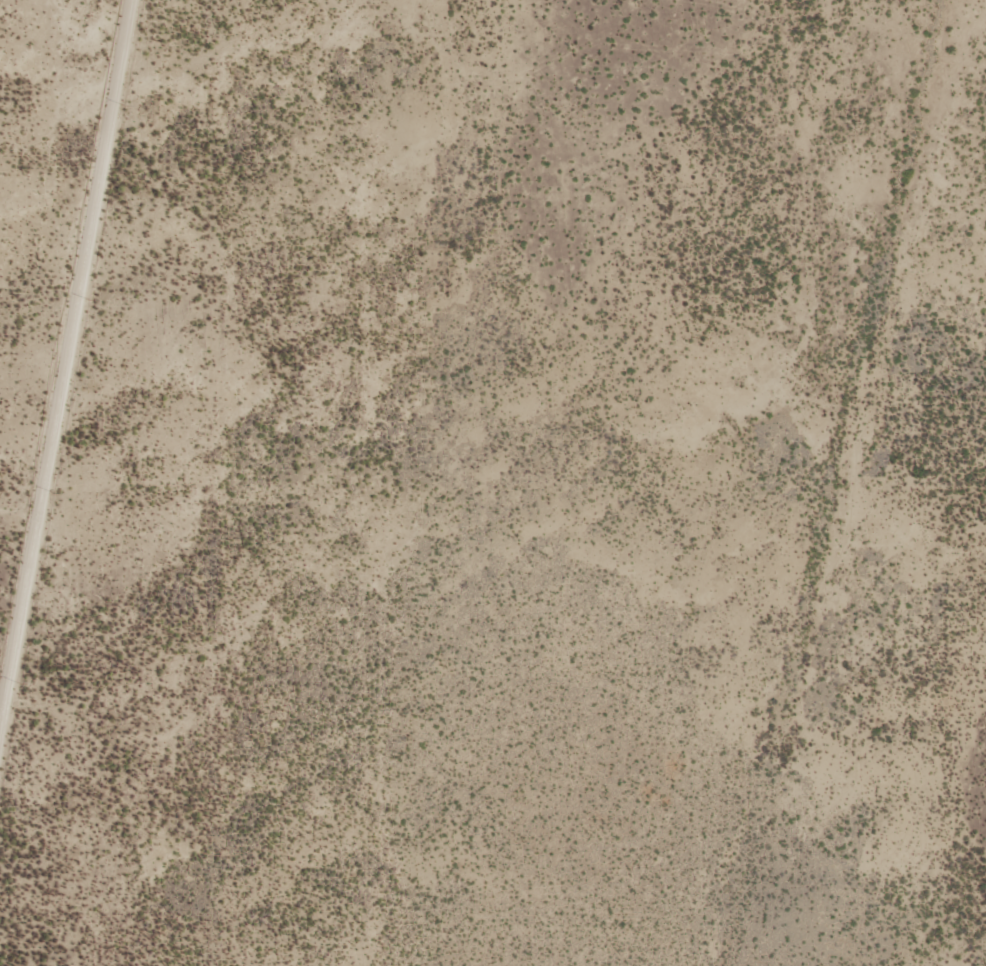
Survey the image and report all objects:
road: (834, 483)

